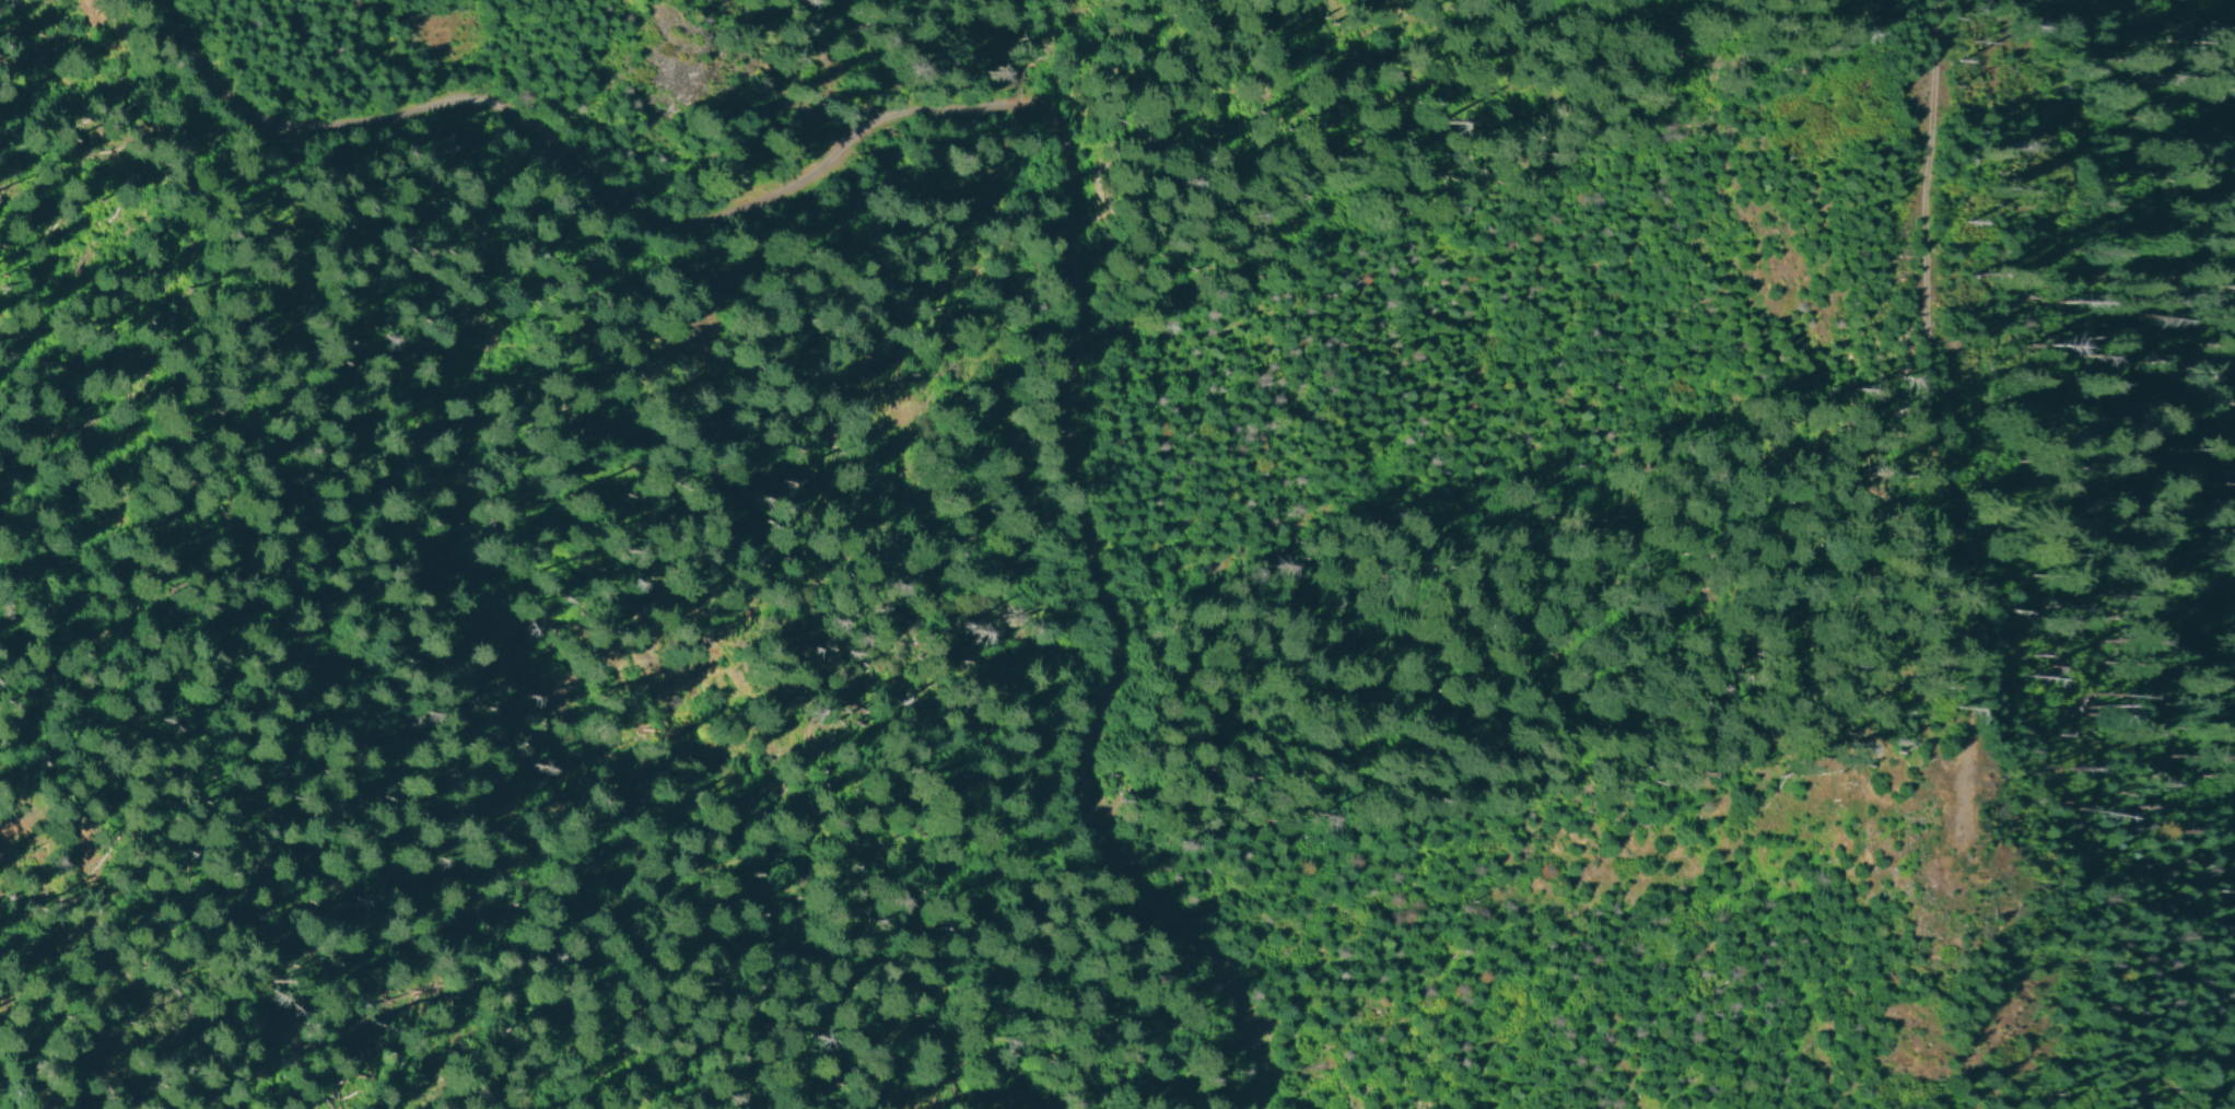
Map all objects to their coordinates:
road: (1055, 151)
road: (1919, 411)

